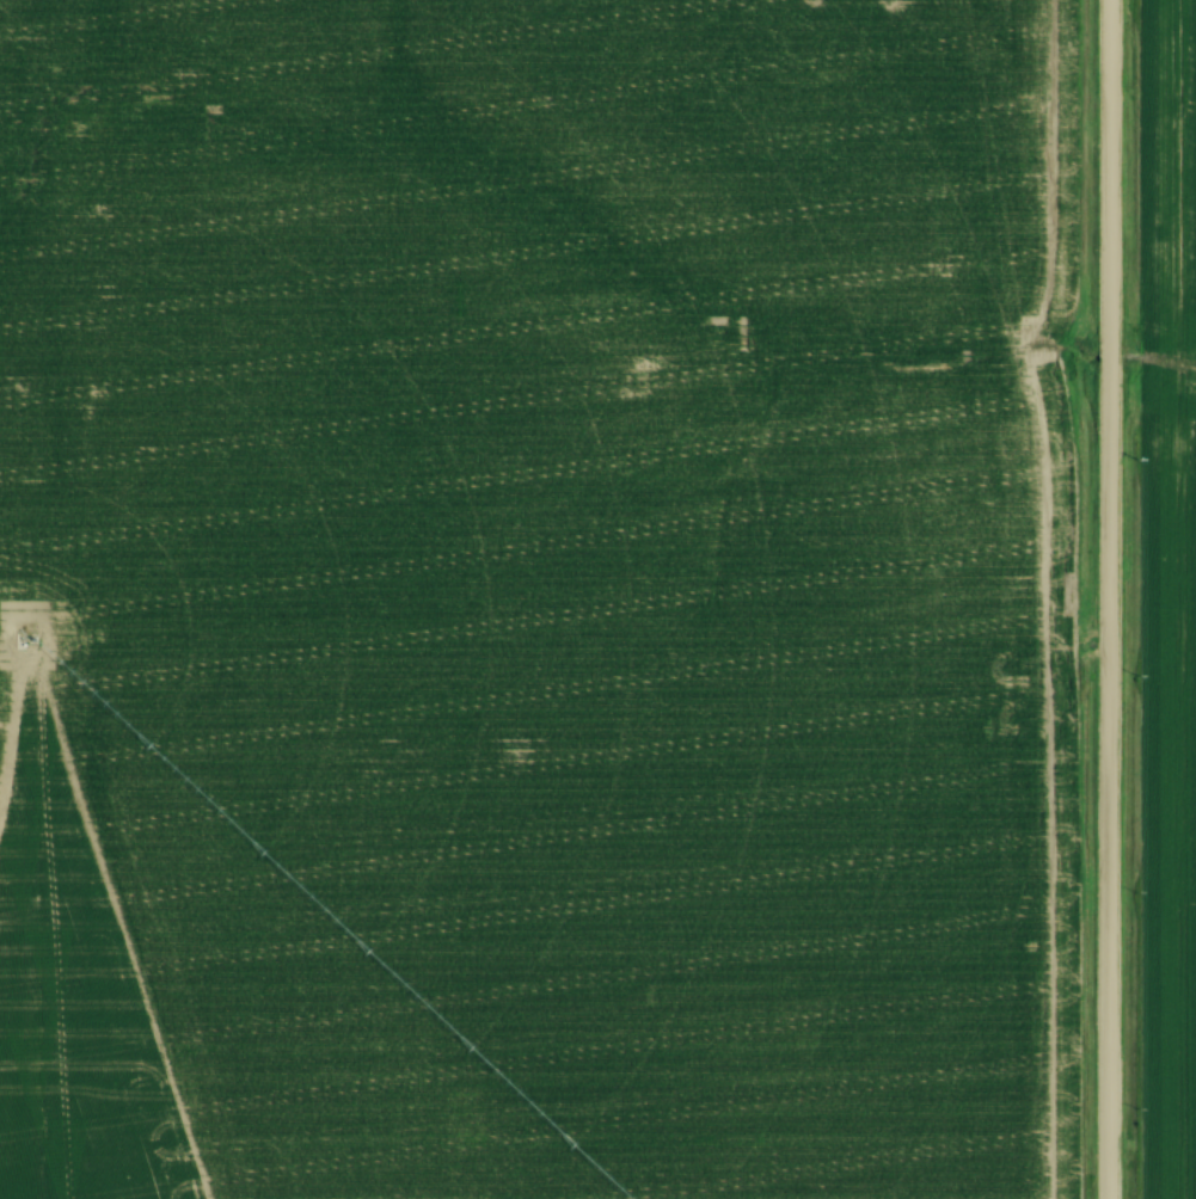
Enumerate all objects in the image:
road: (1106, 599)

